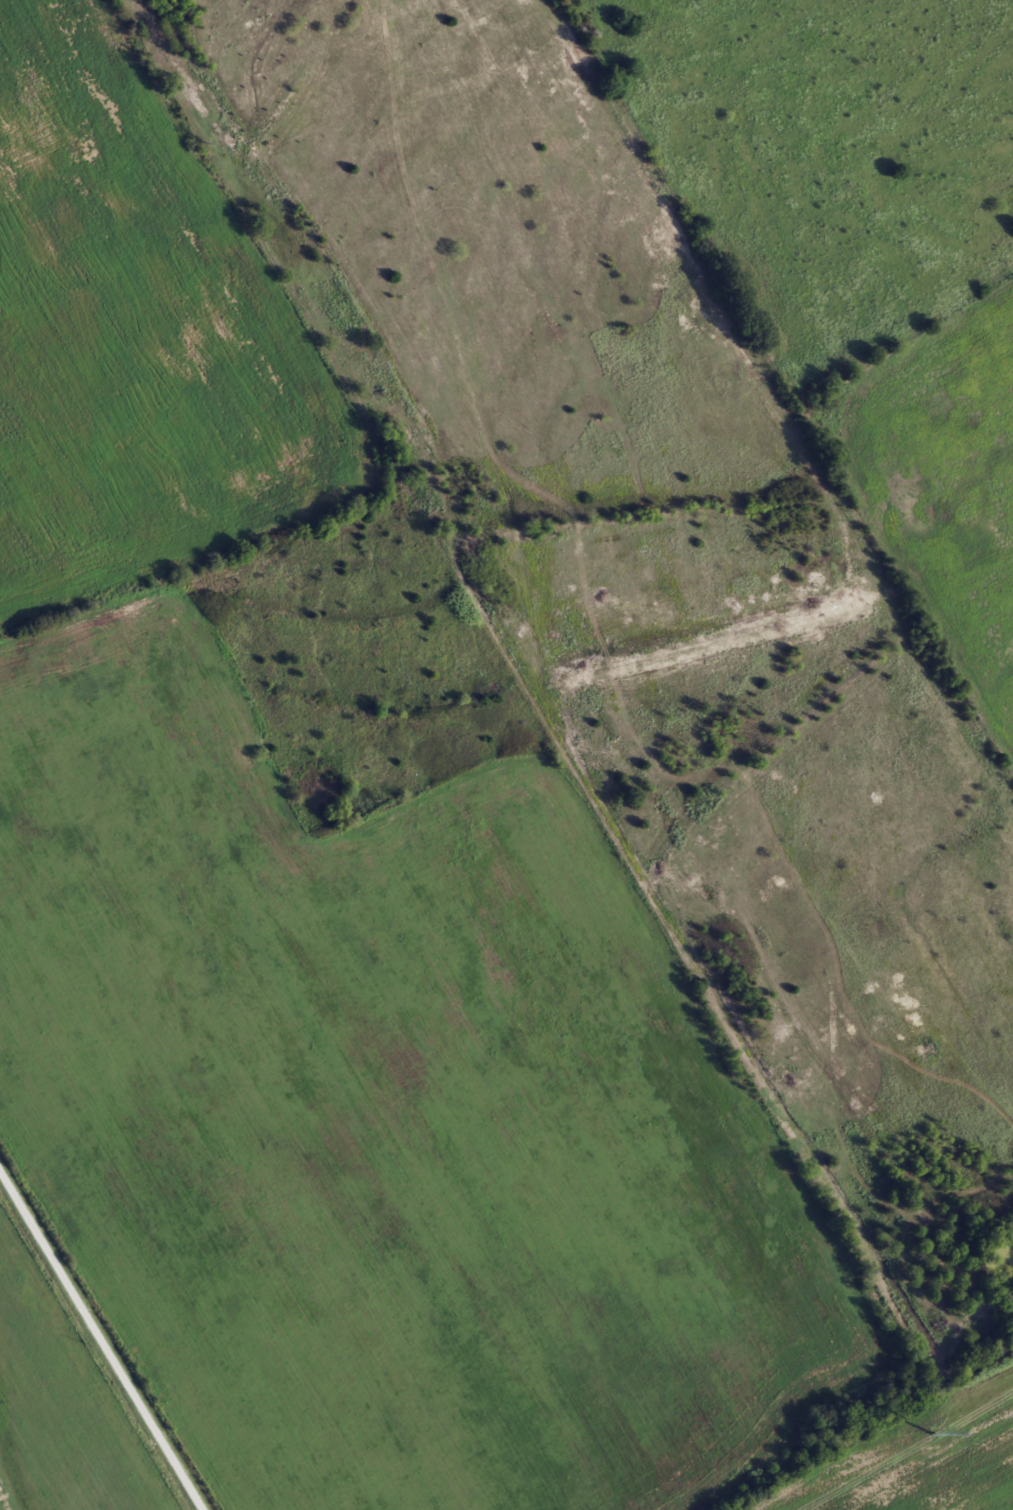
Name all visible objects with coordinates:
road: (104, 1334)
power tower: (934, 1433)

